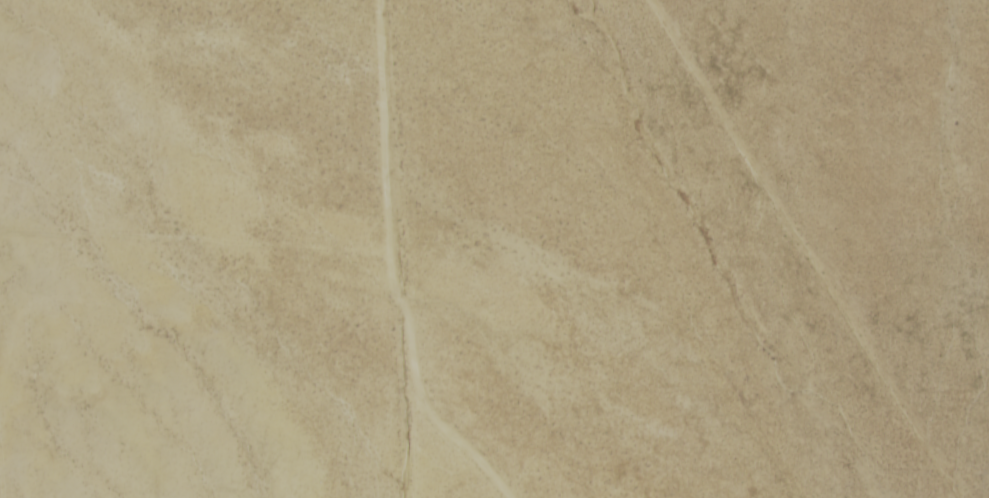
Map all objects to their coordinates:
road: (408, 248)
road: (773, 250)
road: (431, 485)

